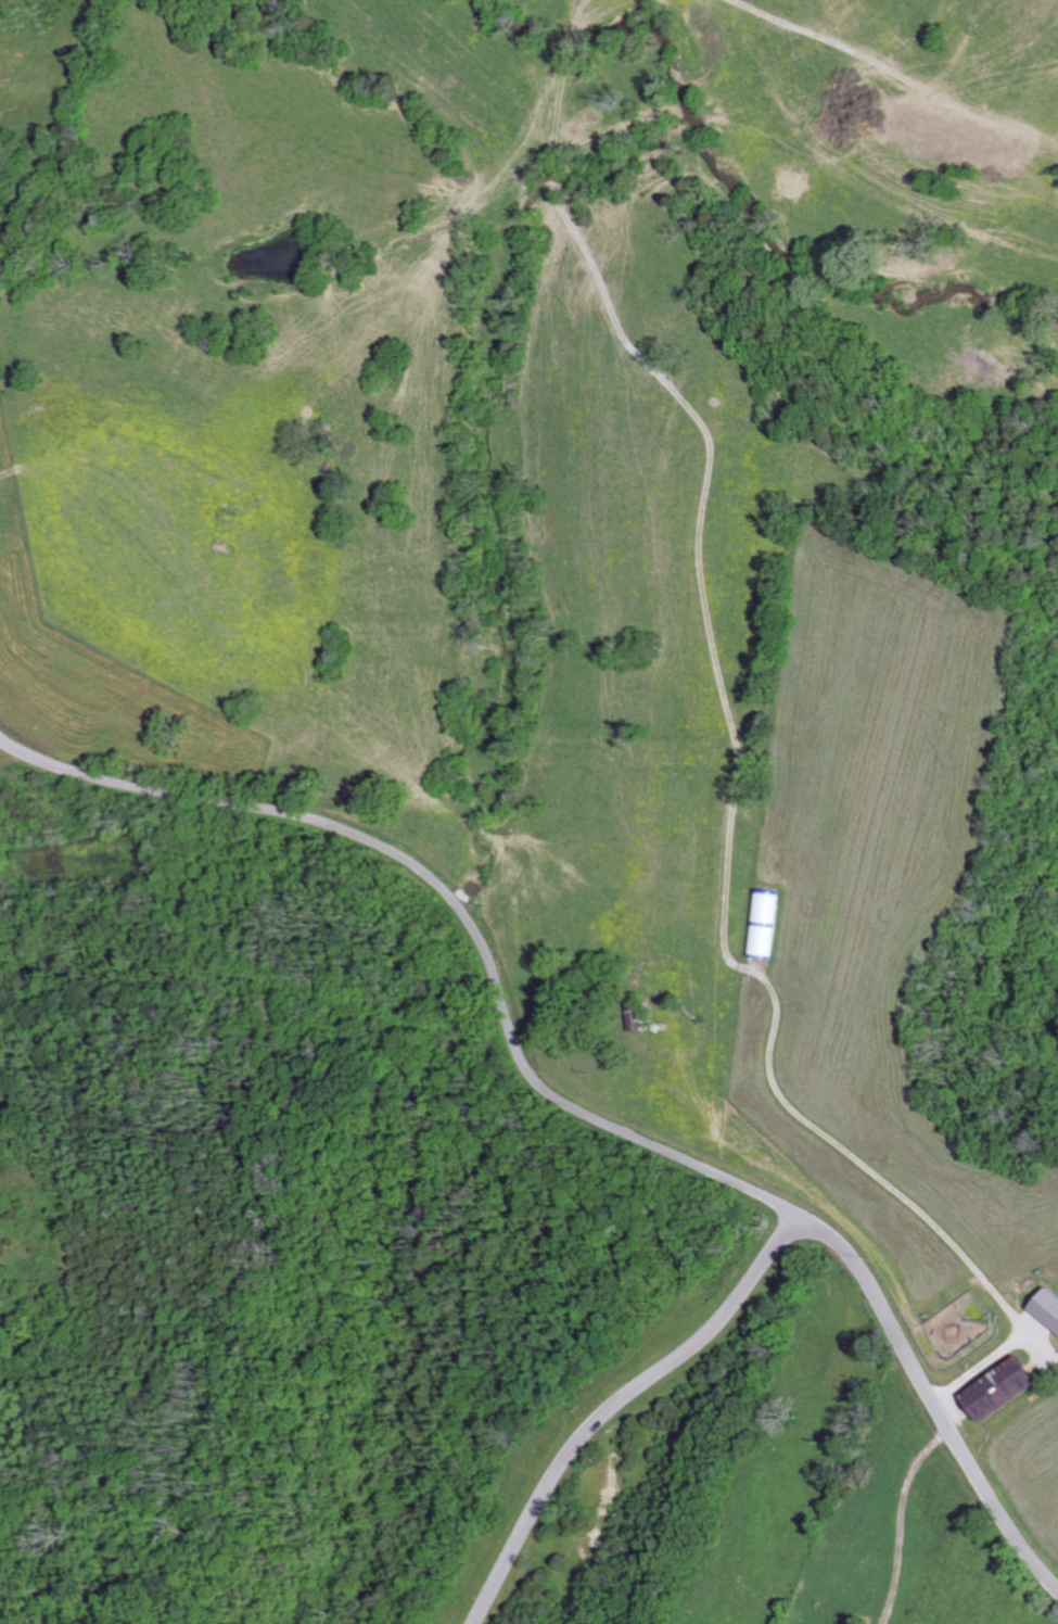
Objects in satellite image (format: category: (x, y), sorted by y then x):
building: (768, 923)
building: (639, 1018)
road: (560, 1100)
road: (898, 1195)
building: (1049, 1308)
building: (1007, 1388)
road: (619, 1404)

